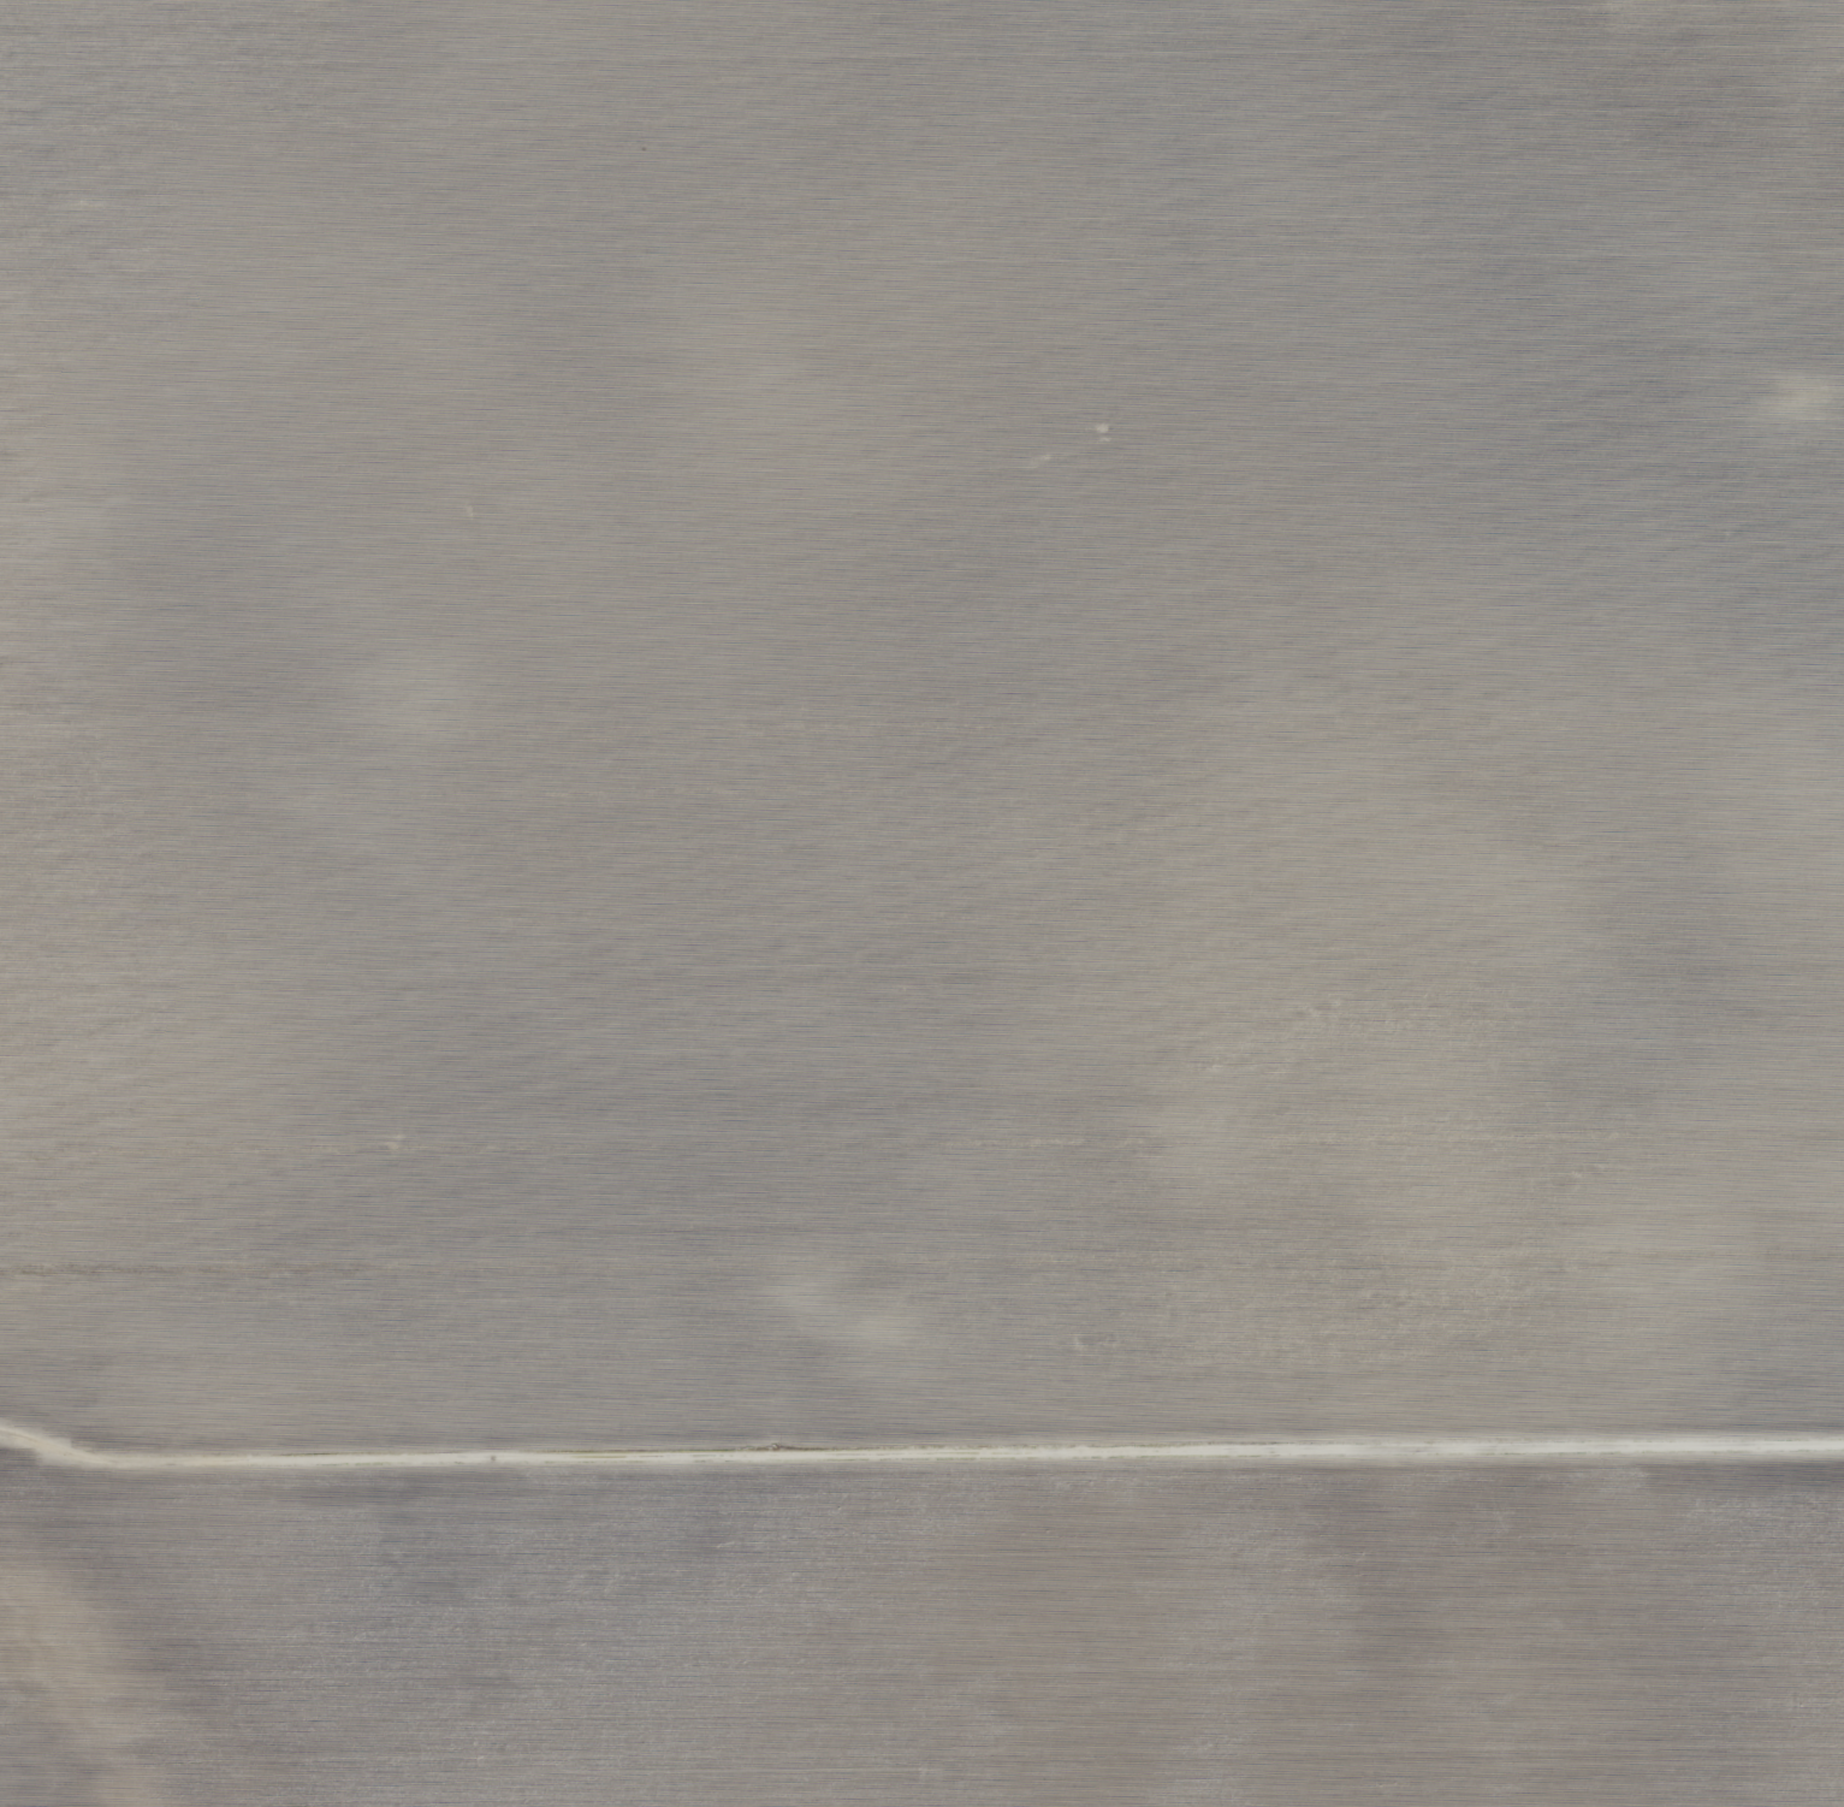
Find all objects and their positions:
road: (920, 1452)

